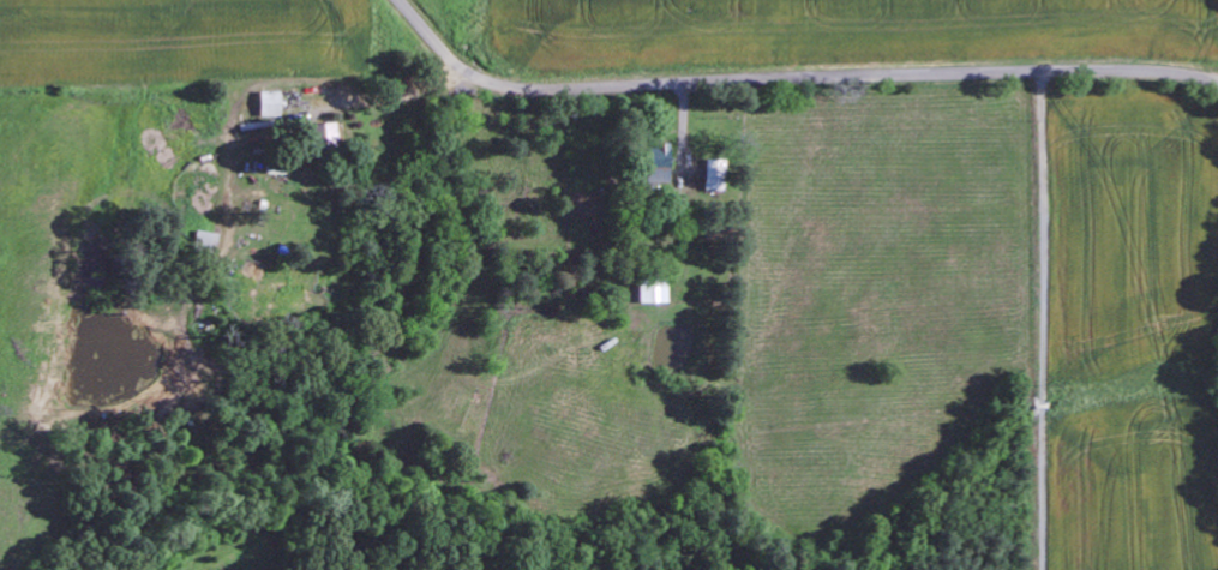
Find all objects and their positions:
road: (791, 77)
building: (265, 103)
building: (319, 134)
building: (653, 163)
building: (709, 174)
building: (203, 241)
building: (648, 289)
road: (1045, 319)

